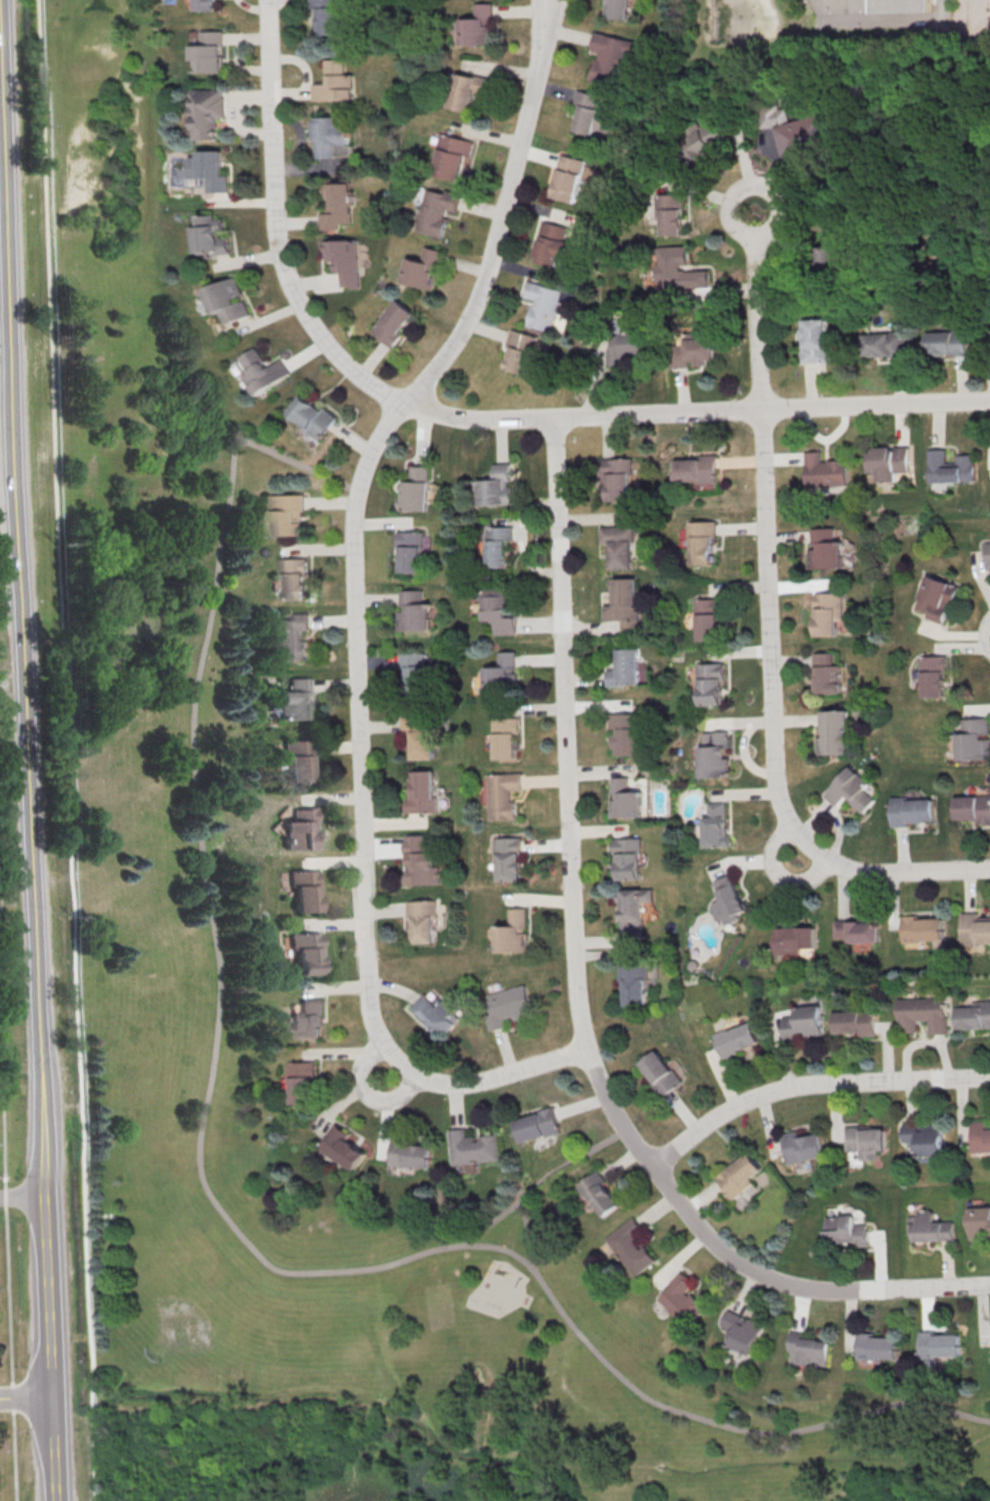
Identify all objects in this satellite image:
building: (210, 6)
building: (618, 8)
building: (905, 8)
road: (544, 14)
road: (551, 14)
building: (329, 15)
building: (478, 26)
building: (211, 55)
building: (610, 59)
building: (336, 85)
building: (467, 92)
building: (208, 112)
building: (773, 115)
building: (592, 116)
building: (332, 137)
building: (803, 137)
building: (704, 139)
building: (452, 158)
building: (208, 170)
building: (570, 180)
building: (336, 204)
building: (436, 213)
building: (670, 215)
road: (277, 227)
building: (211, 235)
building: (553, 244)
building: (831, 259)
building: (341, 260)
building: (421, 268)
building: (678, 272)
building: (228, 300)
building: (547, 307)
road: (756, 310)
building: (391, 322)
building: (946, 342)
building: (815, 343)
building: (885, 344)
building: (625, 347)
building: (692, 350)
building: (521, 353)
building: (261, 371)
road: (695, 411)
building: (309, 416)
building: (888, 462)
building: (696, 469)
building: (951, 470)
building: (826, 473)
building: (617, 480)
building: (496, 486)
building: (414, 489)
building: (286, 518)
building: (701, 544)
building: (497, 548)
building: (620, 548)
building: (410, 552)
building: (825, 552)
building: (987, 557)
building: (293, 580)
building: (936, 599)
building: (624, 604)
building: (497, 610)
building: (413, 612)
building: (828, 615)
building: (709, 620)
road: (353, 624)
road: (987, 634)
building: (289, 640)
building: (625, 671)
building: (415, 674)
building: (827, 676)
building: (503, 677)
building: (933, 677)
building: (711, 685)
building: (295, 702)
park: (147, 704)
road: (771, 727)
building: (628, 735)
building: (833, 735)
building: (420, 737)
building: (506, 741)
building: (973, 741)
road: (28, 750)
road: (71, 750)
building: (714, 754)
building: (299, 762)
building: (849, 792)
building: (422, 795)
building: (503, 798)
building: (626, 802)
building: (973, 811)
building: (909, 813)
building: (716, 828)
building: (300, 831)
road: (0, 835)
building: (508, 860)
building: (629, 861)
building: (422, 865)
road: (778, 873)
building: (304, 890)
building: (727, 900)
building: (633, 912)
building: (423, 923)
building: (857, 930)
building: (921, 931)
building: (974, 931)
building: (513, 935)
building: (793, 939)
building: (306, 955)
building: (633, 985)
road: (574, 993)
building: (508, 1008)
building: (922, 1013)
building: (437, 1014)
building: (974, 1015)
building: (308, 1022)
building: (803, 1022)
building: (855, 1022)
building: (736, 1039)
building: (660, 1072)
building: (303, 1085)
road: (810, 1085)
road: (364, 1091)
building: (537, 1124)
building: (980, 1136)
building: (925, 1138)
building: (866, 1140)
building: (800, 1146)
building: (470, 1148)
building: (408, 1154)
building: (739, 1175)
road: (538, 1183)
building: (600, 1194)
road: (21, 1197)
road: (211, 1197)
building: (980, 1223)
building: (930, 1227)
building: (846, 1230)
road: (528, 1239)
road: (6, 1244)
building: (631, 1247)
building: (681, 1299)
building: (742, 1331)
building: (936, 1343)
building: (875, 1347)
building: (807, 1349)
road: (25, 1396)

